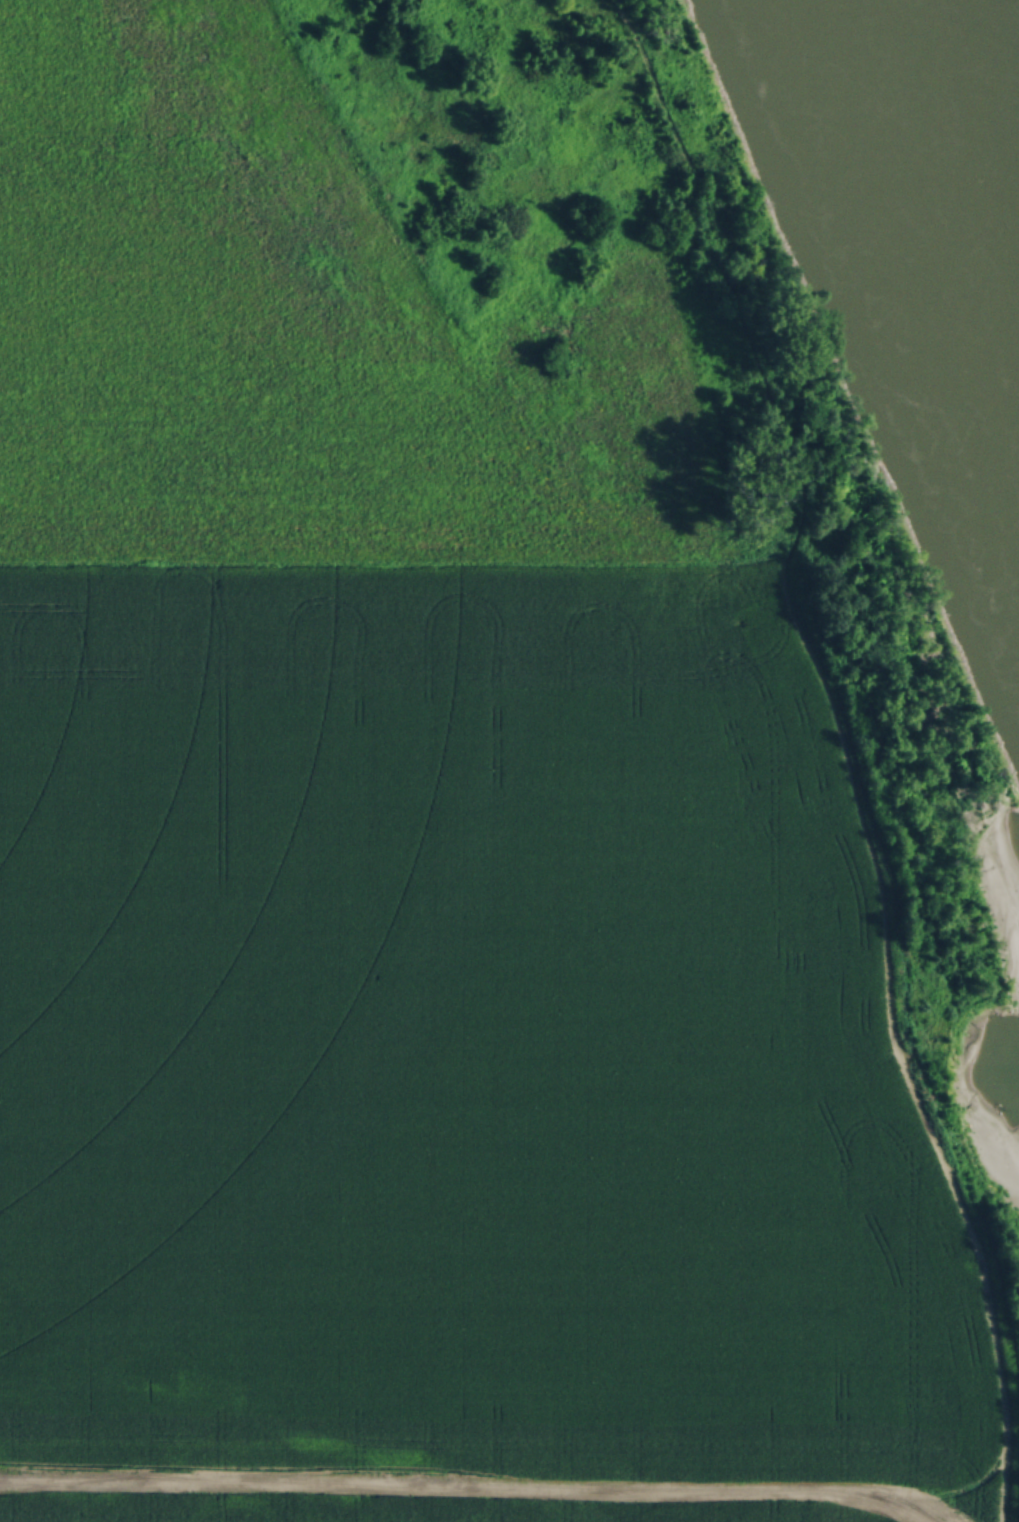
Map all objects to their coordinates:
river: (967, 123)
road: (828, 649)

